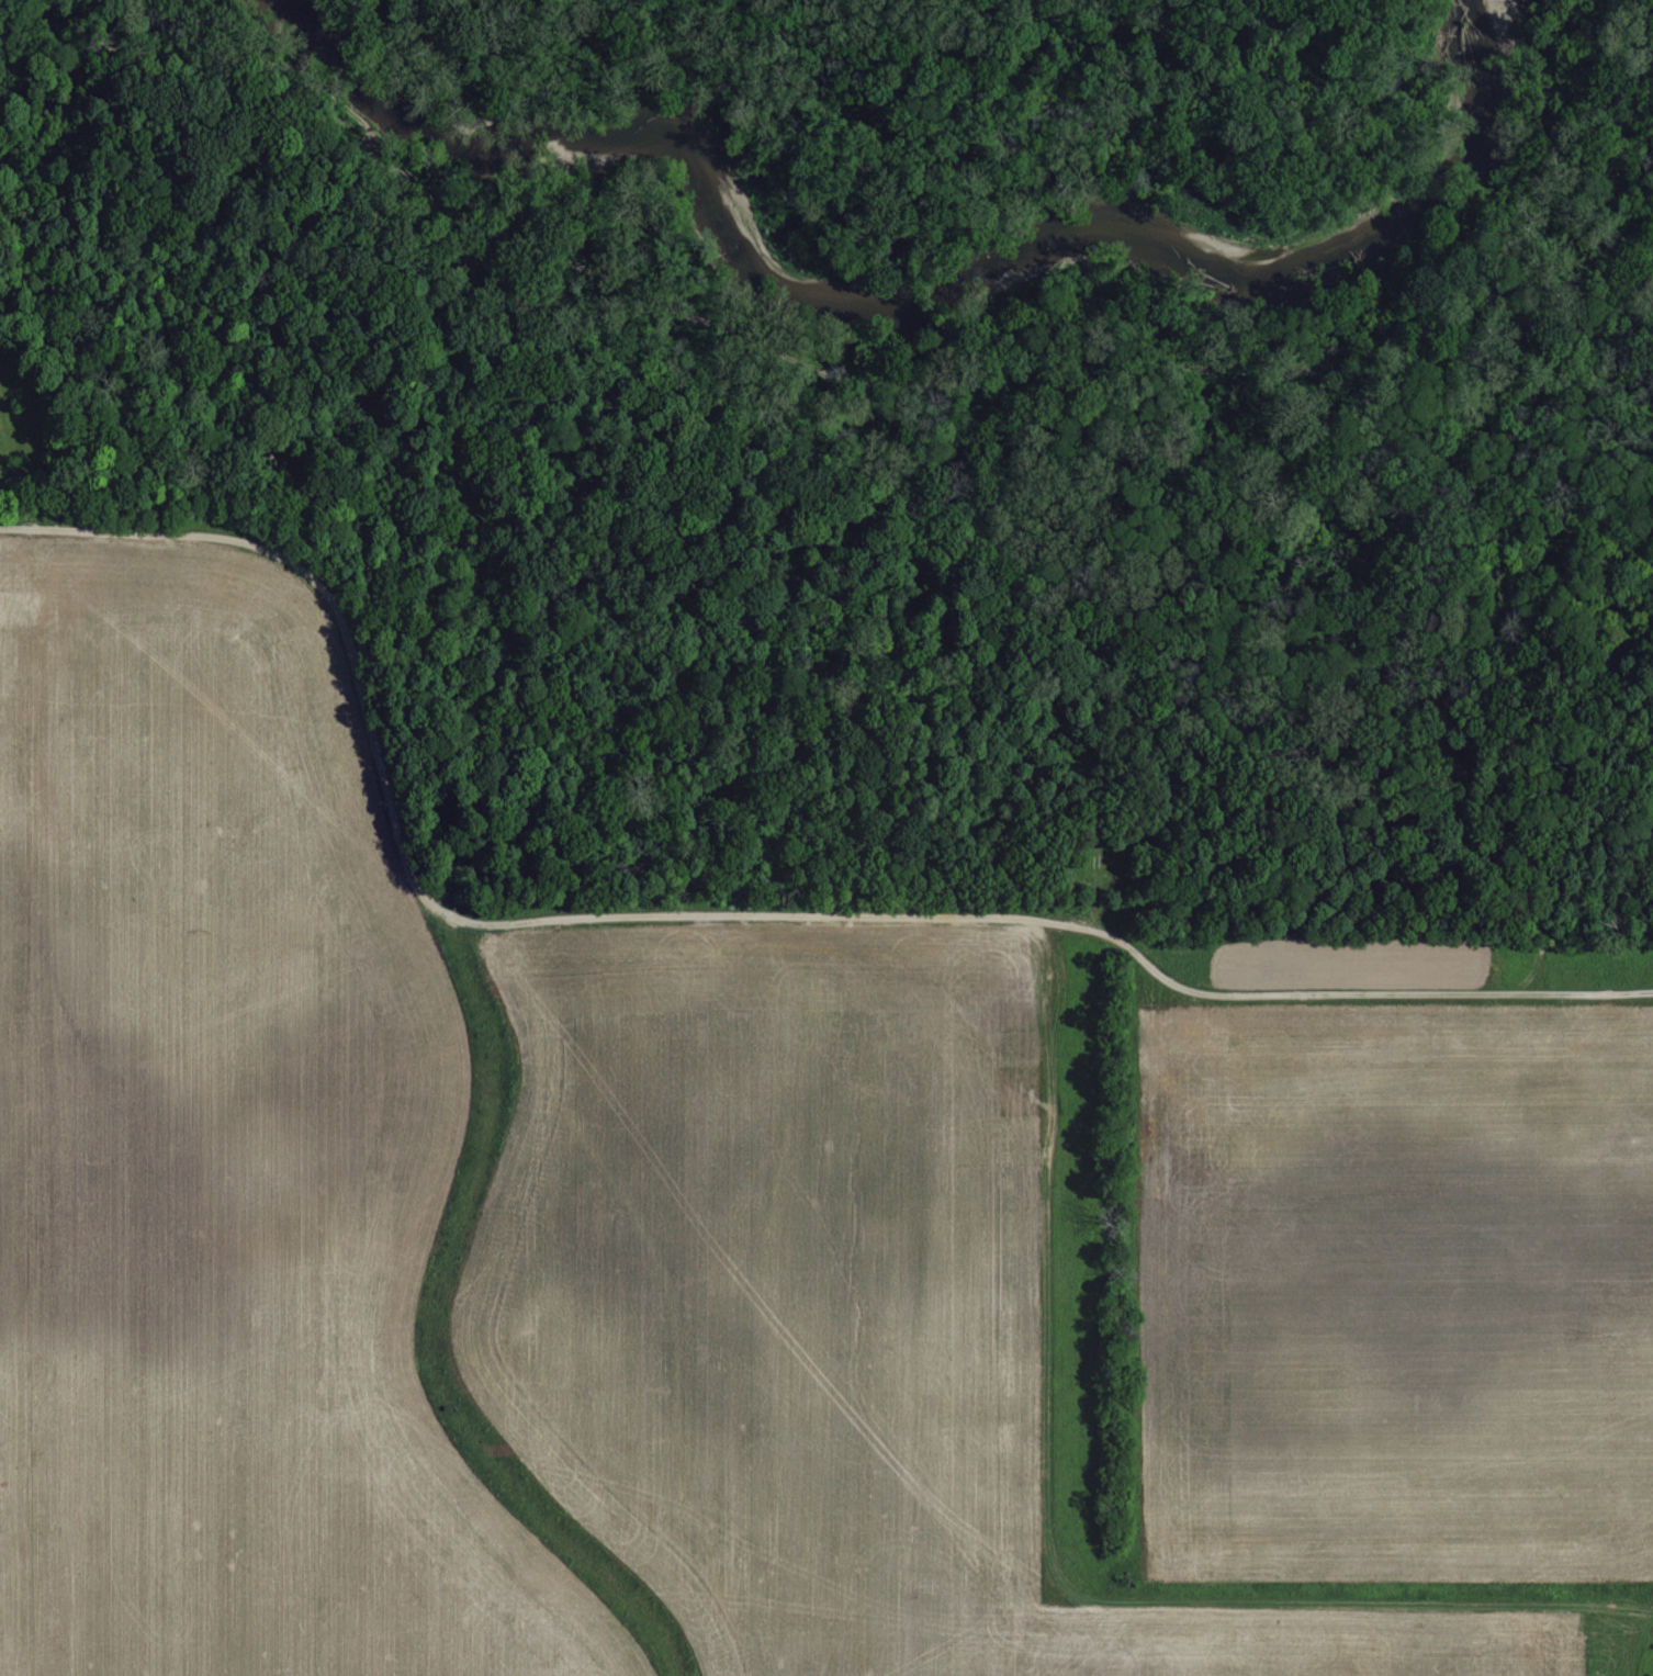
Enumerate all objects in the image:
river: (895, 307)
road: (713, 913)

